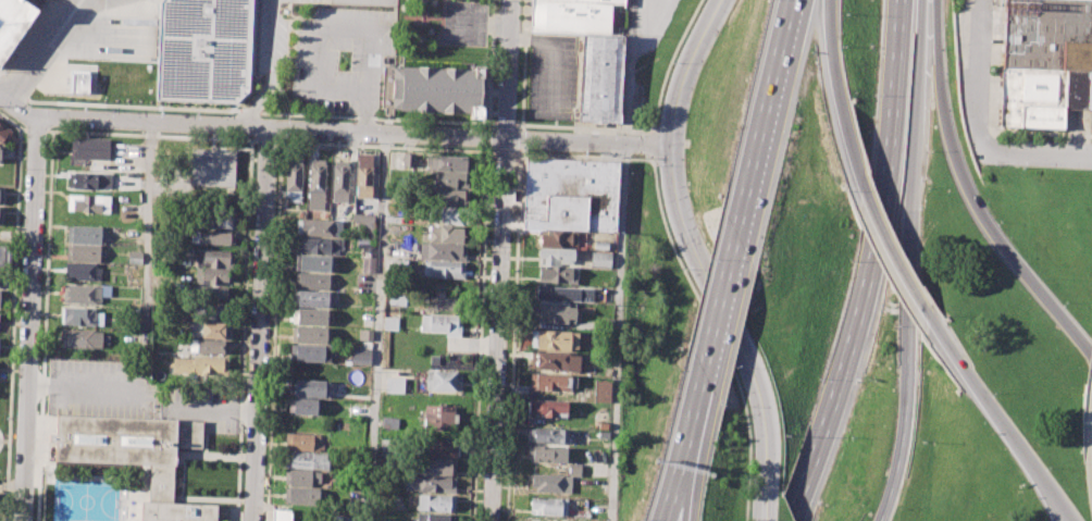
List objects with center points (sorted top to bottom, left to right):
building: (35, 2)
building: (579, 16)
building: (13, 22)
road: (480, 22)
parking lot: (464, 23)
building: (1047, 35)
building: (199, 47)
road: (42, 49)
road: (554, 53)
parking lot: (343, 59)
road: (523, 62)
road: (489, 64)
road: (272, 66)
road: (508, 70)
road: (626, 72)
road: (983, 73)
road: (0, 75)
parking lot: (553, 76)
building: (600, 78)
building: (79, 83)
road: (12, 87)
building: (431, 90)
road: (837, 92)
road: (4, 97)
building: (1046, 97)
road: (772, 99)
road: (133, 106)
road: (249, 111)
road: (991, 115)
road: (372, 117)
road: (492, 123)
road: (505, 123)
road: (255, 127)
road: (521, 127)
road: (650, 127)
road: (22, 128)
road: (36, 129)
road: (650, 129)
building: (4, 132)
road: (150, 134)
road: (487, 137)
road: (521, 138)
road: (264, 140)
road: (588, 142)
road: (650, 144)
road: (380, 146)
building: (89, 148)
building: (2, 150)
road: (1035, 154)
road: (584, 156)
building: (408, 160)
building: (447, 162)
building: (212, 166)
building: (362, 175)
building: (89, 179)
building: (293, 179)
building: (452, 179)
building: (338, 181)
building: (315, 185)
building: (1, 195)
building: (570, 195)
road: (971, 195)
building: (452, 197)
building: (88, 203)
building: (0, 214)
building: (449, 214)
building: (219, 219)
building: (319, 227)
building: (363, 230)
building: (85, 234)
building: (447, 234)
building: (214, 237)
road: (150, 238)
building: (559, 238)
building: (317, 245)
building: (600, 246)
road: (891, 248)
building: (83, 252)
building: (442, 252)
building: (556, 256)
building: (134, 257)
building: (213, 257)
building: (5, 258)
road: (700, 259)
building: (600, 260)
road: (871, 261)
road: (913, 261)
building: (313, 263)
building: (398, 263)
building: (367, 264)
building: (444, 270)
building: (82, 272)
building: (557, 274)
building: (213, 275)
building: (311, 281)
road: (725, 287)
building: (564, 293)
building: (82, 294)
building: (209, 294)
building: (312, 299)
building: (443, 303)
road: (11, 312)
building: (212, 312)
building: (554, 312)
building: (80, 315)
building: (311, 317)
road: (29, 318)
building: (389, 323)
building: (440, 323)
road: (260, 324)
road: (44, 325)
road: (379, 327)
building: (208, 330)
road: (498, 330)
road: (241, 331)
road: (273, 331)
road: (619, 332)
road: (480, 333)
building: (364, 334)
road: (512, 334)
road: (716, 334)
building: (310, 335)
building: (80, 338)
building: (554, 340)
building: (208, 347)
building: (310, 353)
building: (360, 356)
building: (554, 361)
building: (200, 365)
building: (443, 381)
building: (550, 383)
building: (394, 386)
road: (78, 387)
building: (307, 388)
building: (600, 390)
parking lot: (135, 395)
building: (302, 407)
building: (547, 407)
road: (215, 410)
road: (997, 415)
building: (438, 418)
building: (388, 422)
road: (692, 426)
park: (8, 429)
building: (546, 435)
building: (302, 442)
building: (438, 447)
building: (547, 454)
building: (137, 456)
building: (307, 461)
building: (437, 466)
building: (573, 470)
building: (302, 477)
building: (547, 482)
building: (432, 484)
building: (301, 497)
road: (673, 498)
road: (682, 498)
building: (435, 503)
building: (548, 506)
road: (1059, 511)
building: (281, 514)
building: (433, 517)

